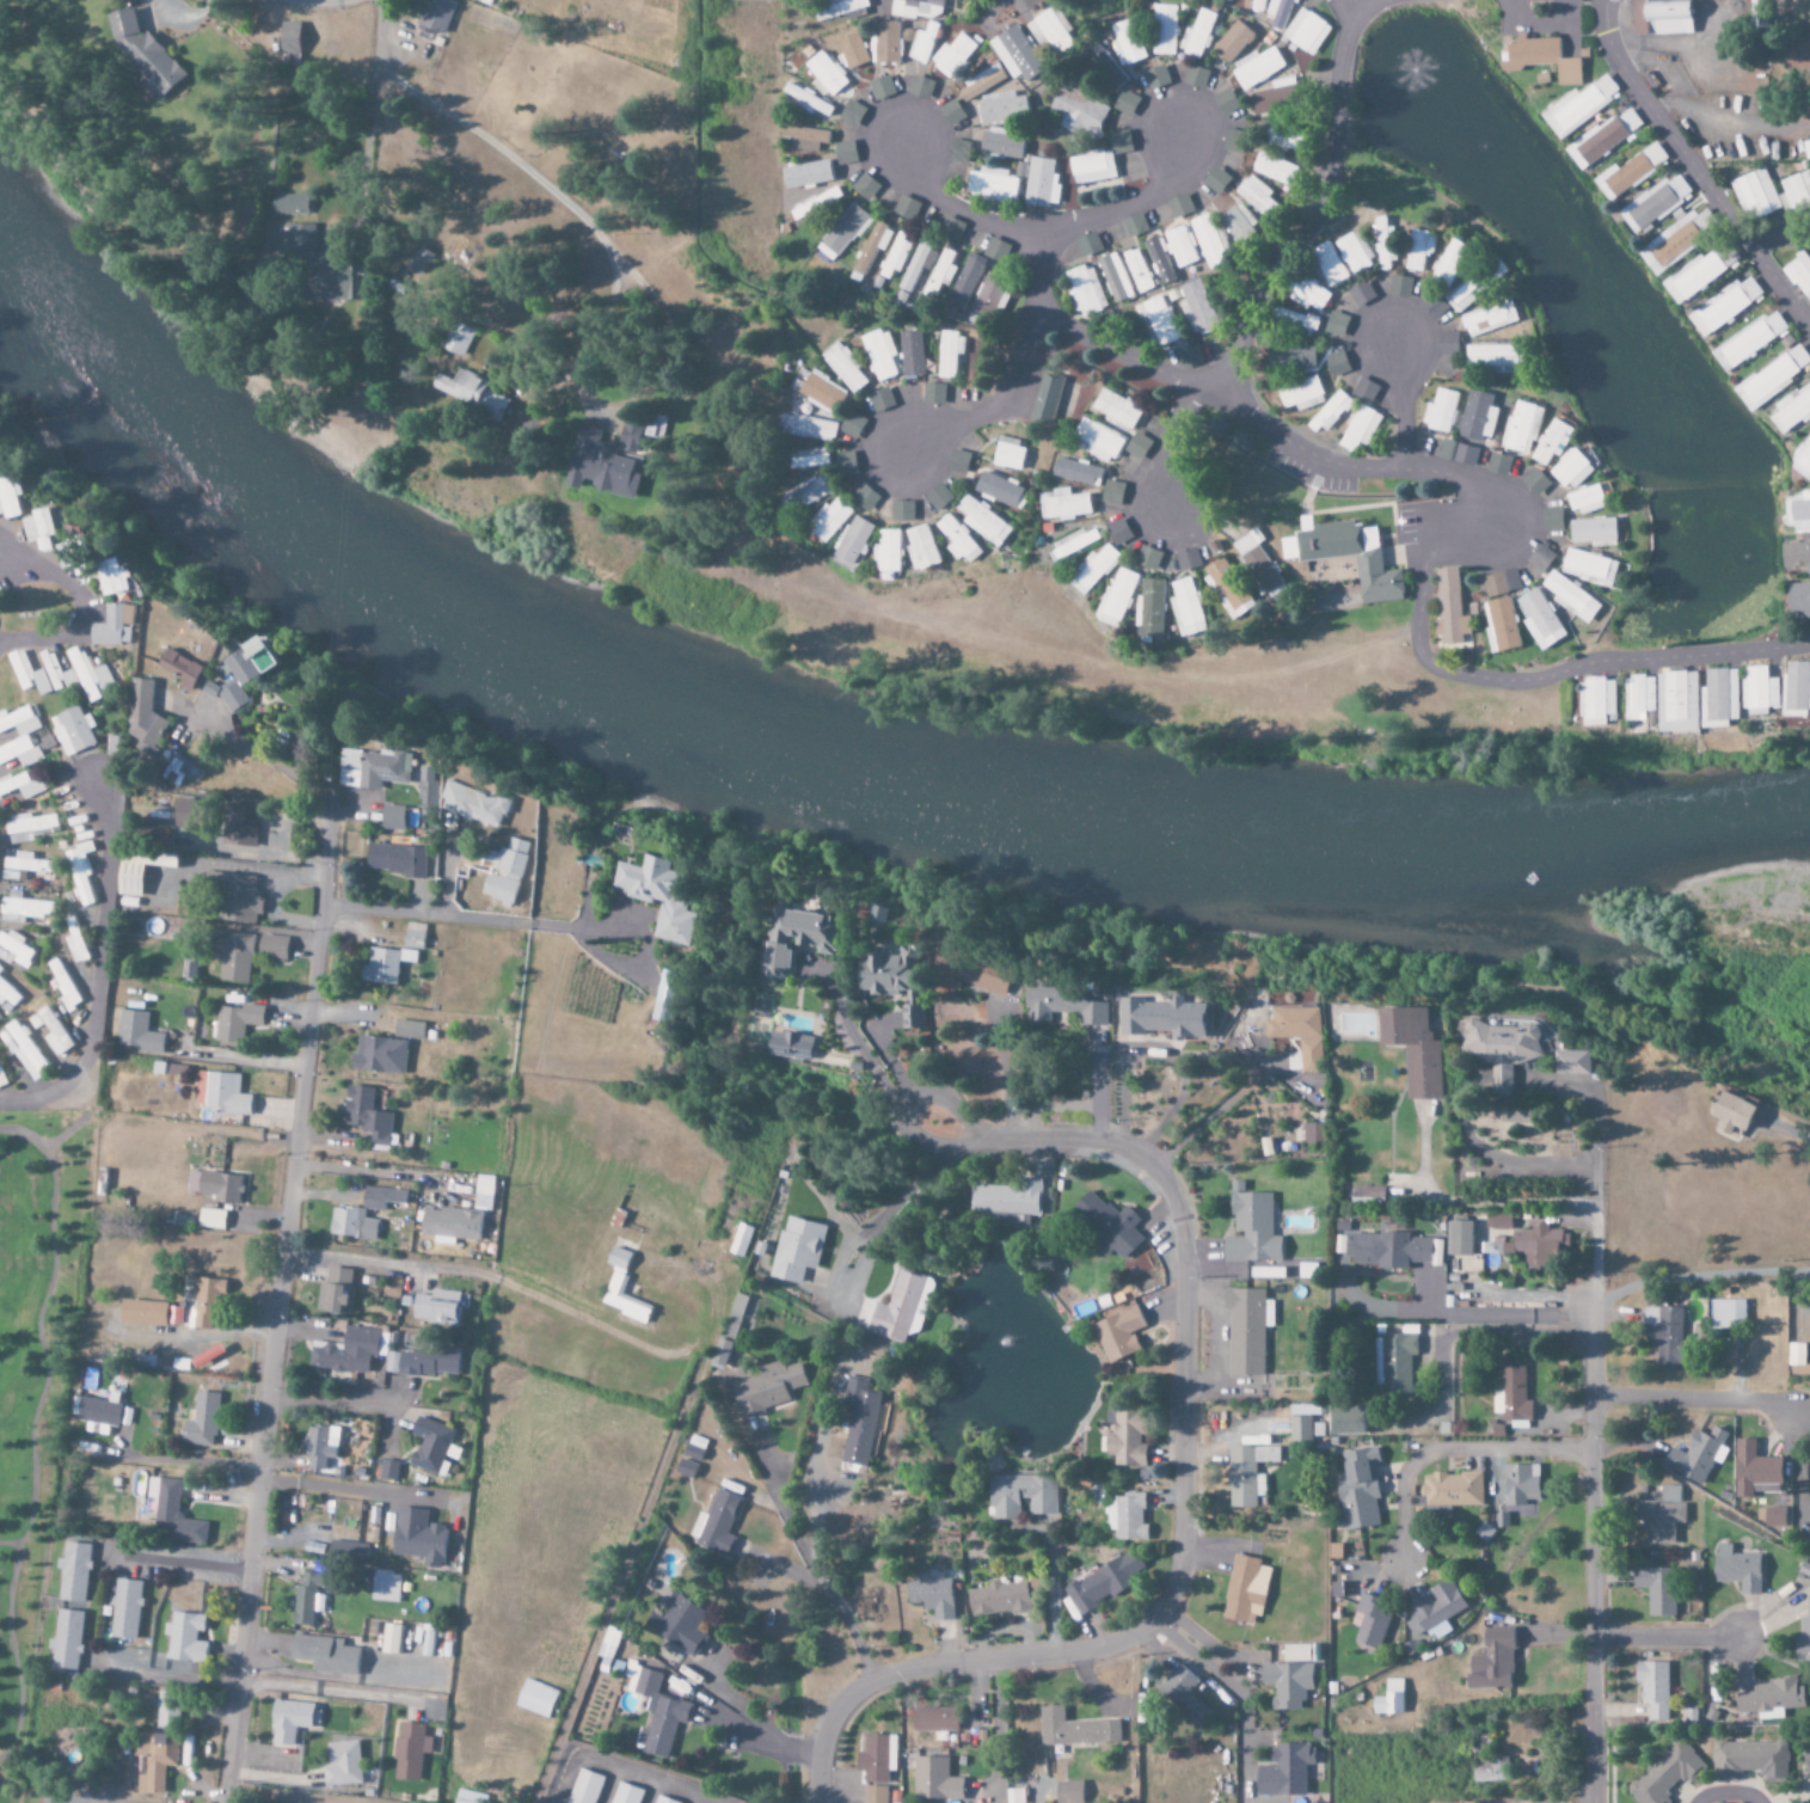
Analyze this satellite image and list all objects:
road: (882, 2)
building: (1258, 6)
building: (835, 8)
building: (918, 8)
building: (1278, 12)
building: (435, 14)
building: (1661, 17)
building: (1164, 30)
building: (1050, 31)
building: (1306, 32)
building: (1197, 35)
building: (290, 42)
building: (885, 42)
building: (1232, 42)
building: (924, 43)
building: (1127, 43)
building: (851, 50)
building: (142, 53)
building: (1017, 54)
building: (953, 56)
building: (1797, 56)
building: (1541, 57)
building: (1104, 65)
building: (1257, 67)
building: (824, 74)
building: (1155, 78)
building: (1195, 78)
building: (982, 82)
building: (881, 87)
building: (920, 87)
building: (808, 102)
building: (1225, 102)
building: (1124, 103)
building: (1579, 106)
building: (1001, 108)
building: (1078, 112)
building: (851, 114)
building: (951, 114)
road: (474, 135)
building: (1607, 135)
building: (1282, 136)
building: (804, 137)
building: (1231, 141)
building: (1119, 142)
building: (1000, 145)
building: (957, 151)
road: (369, 152)
building: (843, 152)
building: (1092, 168)
building: (1276, 170)
road: (1695, 170)
building: (806, 174)
building: (1215, 180)
building: (1041, 183)
building: (990, 184)
building: (864, 186)
building: (1797, 190)
building: (1756, 192)
building: (1254, 196)
building: (1655, 203)
building: (296, 204)
road: (1125, 204)
building: (816, 206)
building: (1179, 206)
building: (904, 208)
road: (958, 208)
road: (1319, 213)
building: (1237, 222)
building: (1133, 225)
building: (950, 228)
building: (842, 232)
building: (1680, 237)
road: (1778, 238)
building: (1208, 240)
building: (1087, 244)
building: (1383, 245)
building: (1179, 247)
building: (871, 250)
building: (1418, 250)
building: (1355, 253)
building: (895, 257)
building: (1158, 259)
building: (425, 263)
building: (1449, 263)
building: (1329, 264)
building: (327, 265)
building: (918, 266)
building: (1136, 271)
building: (941, 272)
building: (975, 272)
building: (1700, 272)
building: (1800, 275)
building: (1113, 277)
building: (1399, 286)
building: (1084, 290)
building: (1306, 294)
building: (1360, 294)
building: (1464, 294)
building: (988, 296)
building: (1725, 306)
building: (1196, 307)
building: (1489, 319)
building: (1156, 320)
building: (1293, 320)
building: (1335, 324)
building: (460, 339)
building: (1749, 341)
building: (1447, 342)
building: (912, 354)
building: (950, 354)
building: (881, 355)
building: (1189, 356)
building: (1289, 357)
building: (1495, 358)
building: (1336, 363)
building: (845, 368)
building: (1772, 379)
building: (1363, 390)
building: (823, 391)
building: (473, 393)
building: (933, 393)
building: (1300, 394)
building: (1047, 399)
building: (881, 400)
road: (1215, 400)
road: (994, 403)
road: (1403, 405)
building: (1116, 410)
building: (1792, 410)
building: (1440, 411)
building: (1330, 412)
building: (1477, 416)
building: (852, 425)
building: (1521, 427)
building: (809, 428)
building: (1358, 429)
building: (632, 437)
building: (1098, 441)
building: (1551, 442)
building: (1139, 446)
road: (1166, 448)
building: (1010, 454)
building: (1464, 455)
building: (808, 459)
building: (958, 461)
building: (1802, 461)
building: (846, 464)
building: (1497, 464)
building: (602, 465)
building: (1571, 470)
building: (1076, 472)
building: (1535, 483)
building: (999, 490)
building: (1112, 492)
building: (806, 495)
building: (866, 497)
building: (939, 498)
building: (13, 499)
building: (1584, 501)
building: (1063, 504)
building: (902, 511)
building: (1799, 511)
building: (830, 520)
building: (1551, 520)
building: (986, 522)
road: (1477, 522)
building: (48, 529)
building: (1591, 531)
building: (1118, 532)
building: (959, 540)
building: (854, 544)
building: (1073, 545)
building: (922, 548)
building: (888, 552)
building: (1796, 556)
building: (1148, 558)
building: (1299, 558)
building: (1540, 558)
building: (1588, 568)
building: (1092, 570)
building: (119, 577)
building: (1501, 583)
building: (1226, 588)
building: (1117, 596)
building: (1571, 597)
building: (1799, 599)
road: (97, 603)
building: (1149, 608)
building: (1186, 608)
building: (1449, 612)
building: (1539, 619)
building: (1499, 625)
building: (123, 626)
building: (188, 668)
building: (63, 671)
building: (251, 673)
building: (33, 674)
building: (98, 675)
road: (1521, 681)
building: (1797, 688)
building: (1762, 691)
building: (1642, 697)
building: (1722, 698)
building: (1599, 701)
building: (1680, 701)
building: (147, 715)
building: (22, 722)
building: (79, 730)
building: (23, 753)
road: (272, 759)
river: (822, 766)
building: (379, 768)
building: (185, 772)
building: (24, 785)
building: (435, 787)
building: (478, 804)
building: (398, 817)
building: (240, 826)
building: (32, 828)
building: (398, 859)
building: (27, 864)
building: (507, 870)
building: (14, 876)
building: (129, 878)
building: (82, 888)
building: (662, 897)
building: (238, 899)
building: (23, 908)
road: (475, 918)
building: (413, 936)
building: (802, 939)
building: (272, 946)
building: (14, 950)
building: (232, 956)
road: (97, 964)
building: (384, 965)
building: (0, 968)
building: (980, 973)
building: (901, 982)
building: (8, 993)
building: (665, 996)
building: (1070, 1005)
building: (1167, 1018)
building: (235, 1023)
building: (50, 1030)
building: (407, 1030)
building: (136, 1032)
building: (1303, 1034)
building: (794, 1045)
building: (1418, 1049)
building: (1507, 1050)
building: (24, 1051)
building: (378, 1055)
building: (1575, 1062)
building: (220, 1093)
building: (366, 1115)
building: (1730, 1115)
road: (76, 1121)
building: (1311, 1133)
road: (378, 1171)
building: (214, 1185)
building: (483, 1194)
building: (1367, 1195)
building: (380, 1197)
building: (1010, 1198)
building: (210, 1219)
building: (1497, 1221)
building: (351, 1224)
building: (449, 1224)
building: (1106, 1225)
building: (1251, 1228)
building: (1459, 1238)
building: (740, 1240)
building: (1538, 1246)
building: (796, 1250)
building: (1386, 1250)
building: (1308, 1271)
building: (620, 1288)
park: (0, 1293)
building: (335, 1293)
building: (205, 1304)
road: (280, 1305)
building: (741, 1306)
building: (436, 1307)
building: (901, 1308)
building: (141, 1313)
building: (1726, 1314)
building: (173, 1316)
building: (1245, 1332)
building: (1663, 1333)
building: (1119, 1335)
building: (344, 1353)
building: (719, 1354)
building: (205, 1357)
building: (1797, 1361)
building: (422, 1362)
building: (1397, 1363)
building: (766, 1387)
park: (30, 1388)
building: (1510, 1394)
road: (1694, 1397)
building: (1303, 1411)
building: (98, 1415)
building: (201, 1421)
building: (859, 1421)
building: (1346, 1421)
road: (29, 1428)
building: (1508, 1428)
building: (1301, 1429)
building: (1125, 1439)
building: (1257, 1441)
building: (319, 1446)
building: (431, 1446)
road: (1450, 1451)
building: (1698, 1455)
building: (688, 1461)
building: (1809, 1464)
building: (1753, 1468)
building: (387, 1471)
building: (1246, 1473)
building: (1520, 1484)
building: (1450, 1489)
building: (1357, 1491)
building: (1021, 1496)
road: (1594, 1504)
building: (171, 1514)
building: (1661, 1515)
building: (1771, 1516)
building: (1125, 1517)
building: (716, 1523)
road: (1183, 1523)
building: (1809, 1537)
building: (417, 1538)
road: (8, 1543)
building: (1335, 1551)
building: (348, 1552)
road: (618, 1564)
building: (1738, 1570)
building: (74, 1572)
building: (1099, 1586)
building: (386, 1587)
building: (1245, 1590)
building: (1656, 1590)
building: (931, 1597)
building: (999, 1599)
building: (307, 1600)
building: (125, 1611)
building: (1434, 1612)
building: (1369, 1621)
building: (679, 1626)
road: (1668, 1637)
building: (1803, 1637)
building: (185, 1638)
building: (392, 1639)
building: (66, 1641)
building: (428, 1644)
building: (324, 1655)
building: (1491, 1662)
building: (1286, 1685)
building: (1652, 1688)
building: (1182, 1695)
building: (1771, 1697)
building: (535, 1698)
building: (1388, 1699)
building: (166, 1710)
building: (655, 1711)
building: (933, 1719)
building: (290, 1722)
building: (1074, 1730)
building: (409, 1752)
building: (873, 1759)
building: (1806, 1759)
building: (1750, 1760)
building: (152, 1762)
building: (342, 1765)
building: (1283, 1771)
building: (1490, 1771)
building: (1664, 1774)
building: (934, 1781)
building: (873, 1795)
building: (1014, 1796)
building: (470, 1797)
building: (662, 1799)

